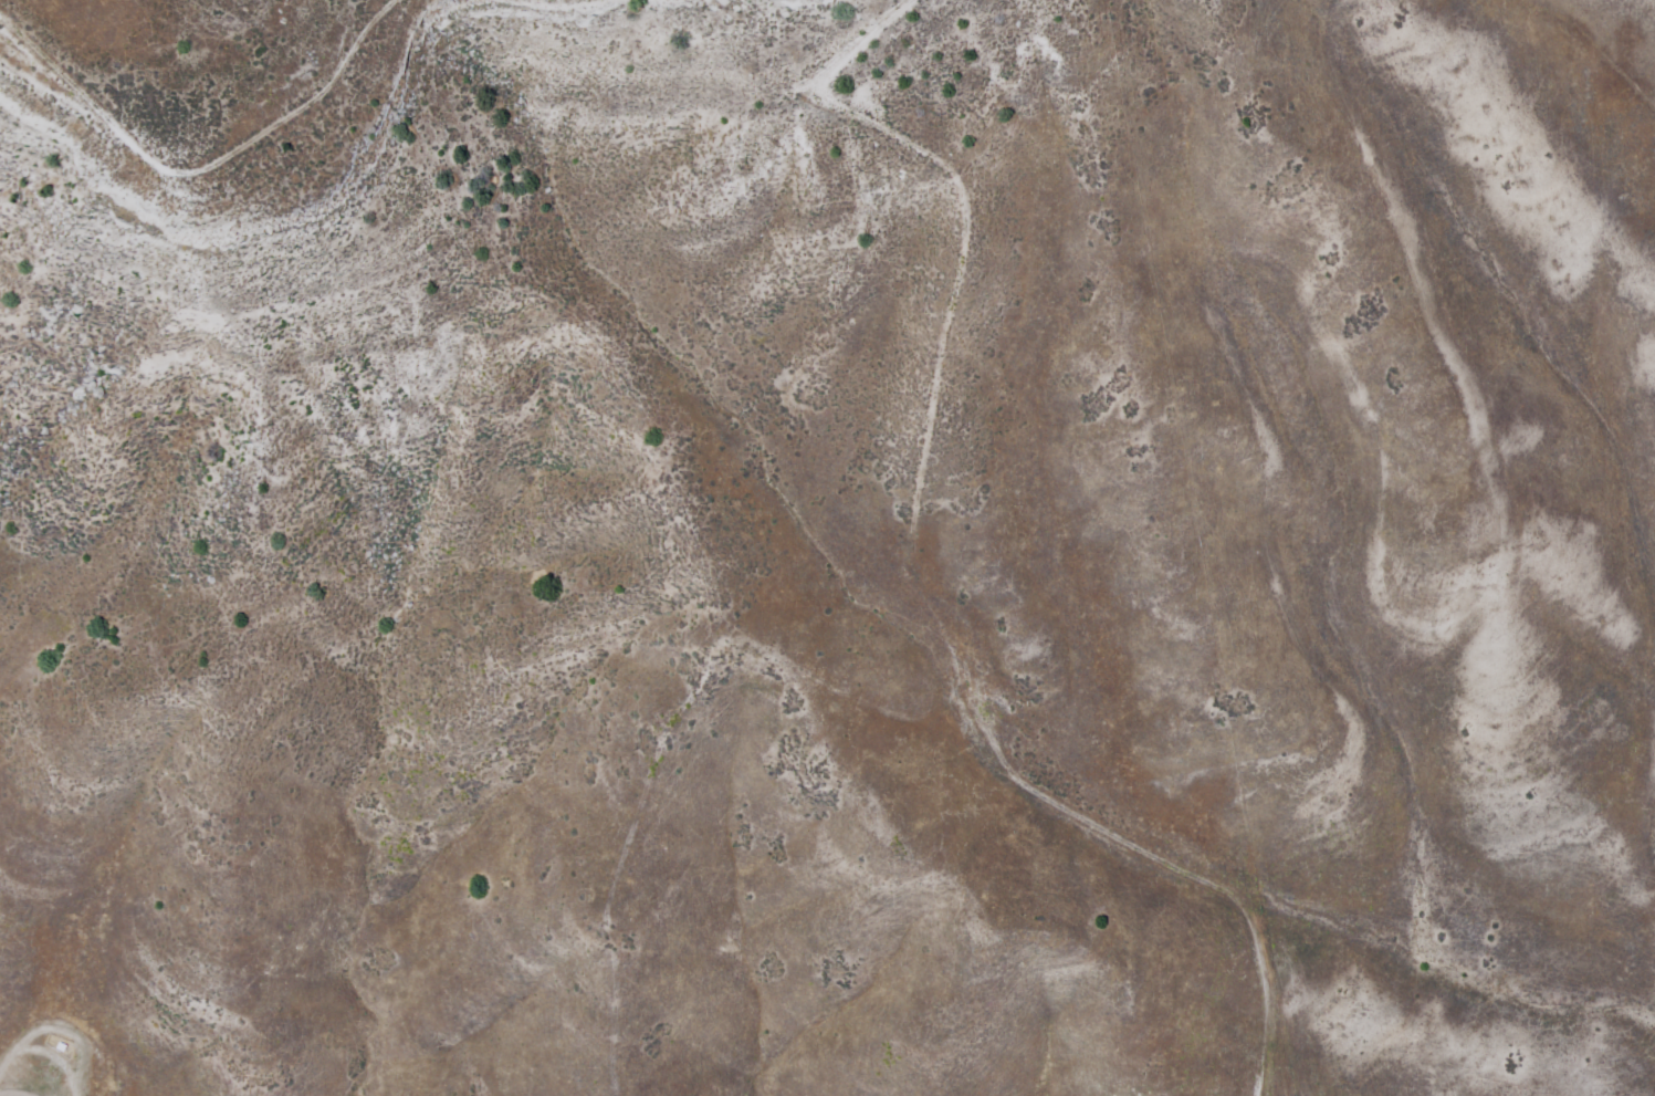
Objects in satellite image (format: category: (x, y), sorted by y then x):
road: (203, 173)
road: (962, 286)
solar farm: (1359, 554)
road: (882, 708)

